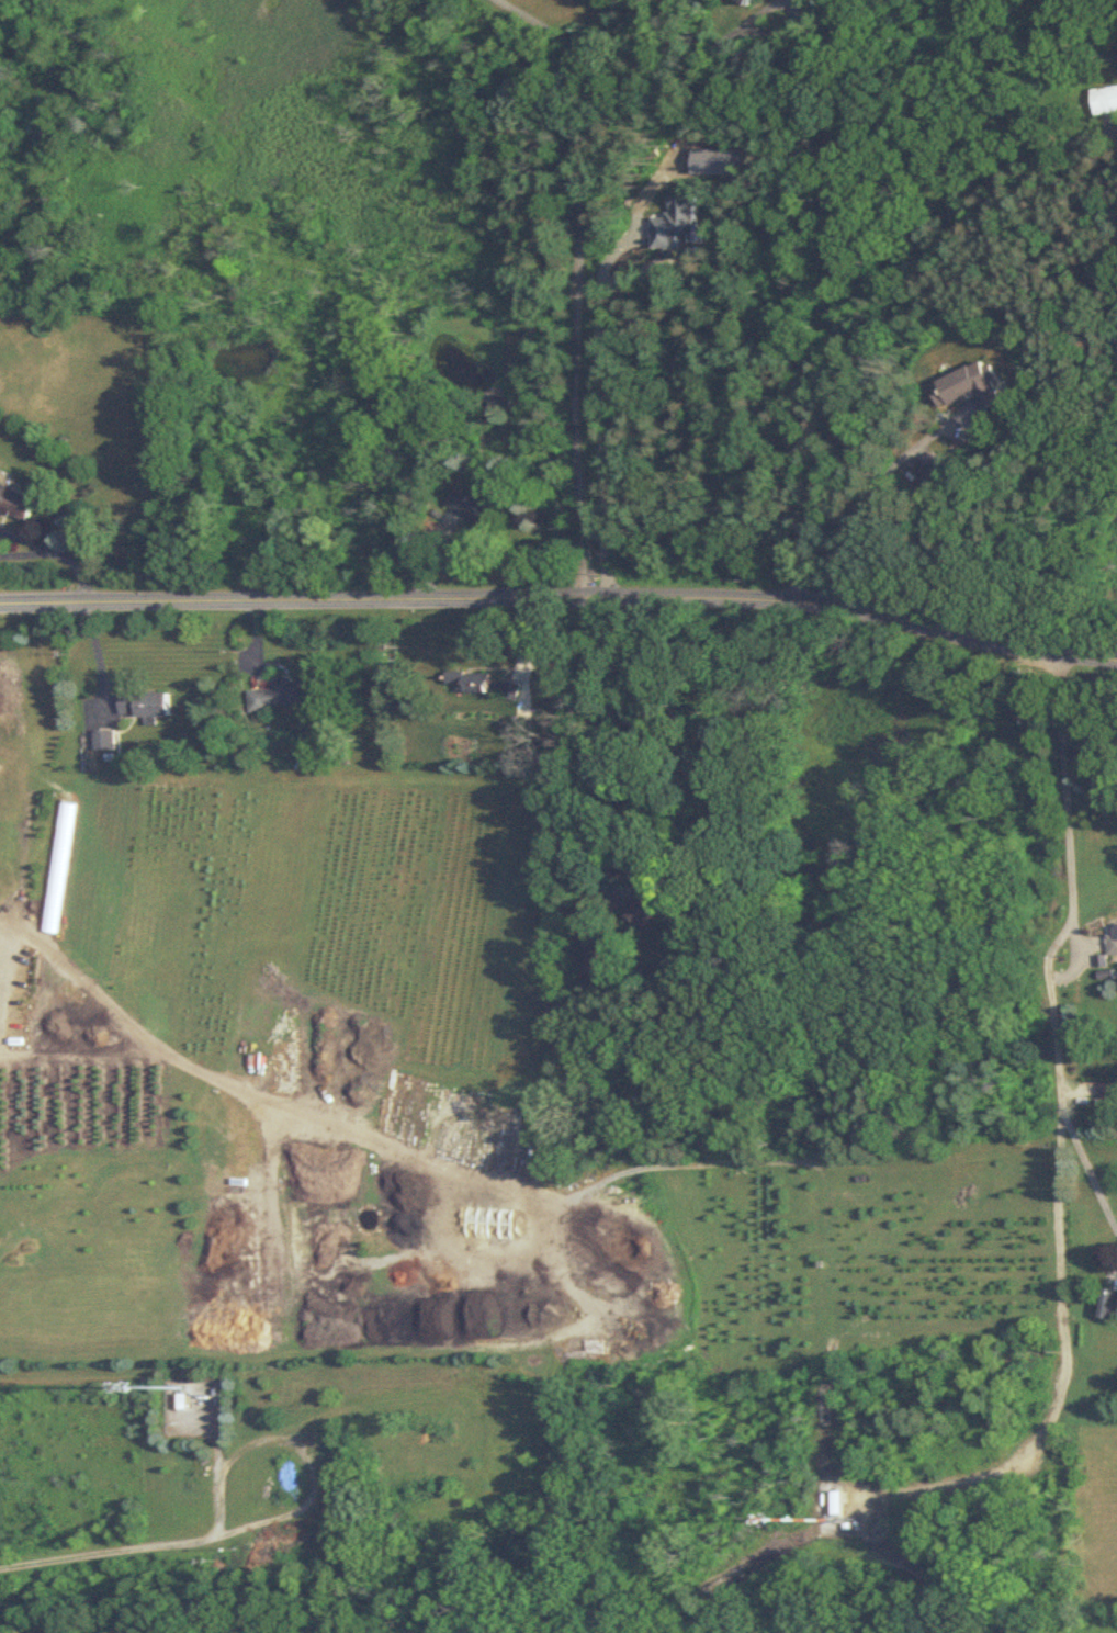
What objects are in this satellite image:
building: (744, 1)
road: (749, 18)
road: (771, 32)
road: (643, 75)
building: (1104, 99)
building: (679, 222)
road: (575, 282)
road: (860, 306)
building: (970, 386)
road: (597, 424)
road: (871, 499)
building: (16, 502)
building: (478, 508)
road: (27, 540)
road: (27, 554)
road: (78, 573)
road: (561, 598)
building: (477, 684)
building: (280, 696)
building: (146, 705)
road: (591, 733)
building: (104, 740)
building: (56, 867)
building: (644, 890)
building: (1113, 939)
road: (2, 943)
road: (194, 1068)
road: (1064, 1135)
road: (1092, 1178)
road: (530, 1254)
building: (1108, 1303)
building: (835, 1504)
road: (143, 1546)
park: (524, 1614)
road: (444, 1632)

